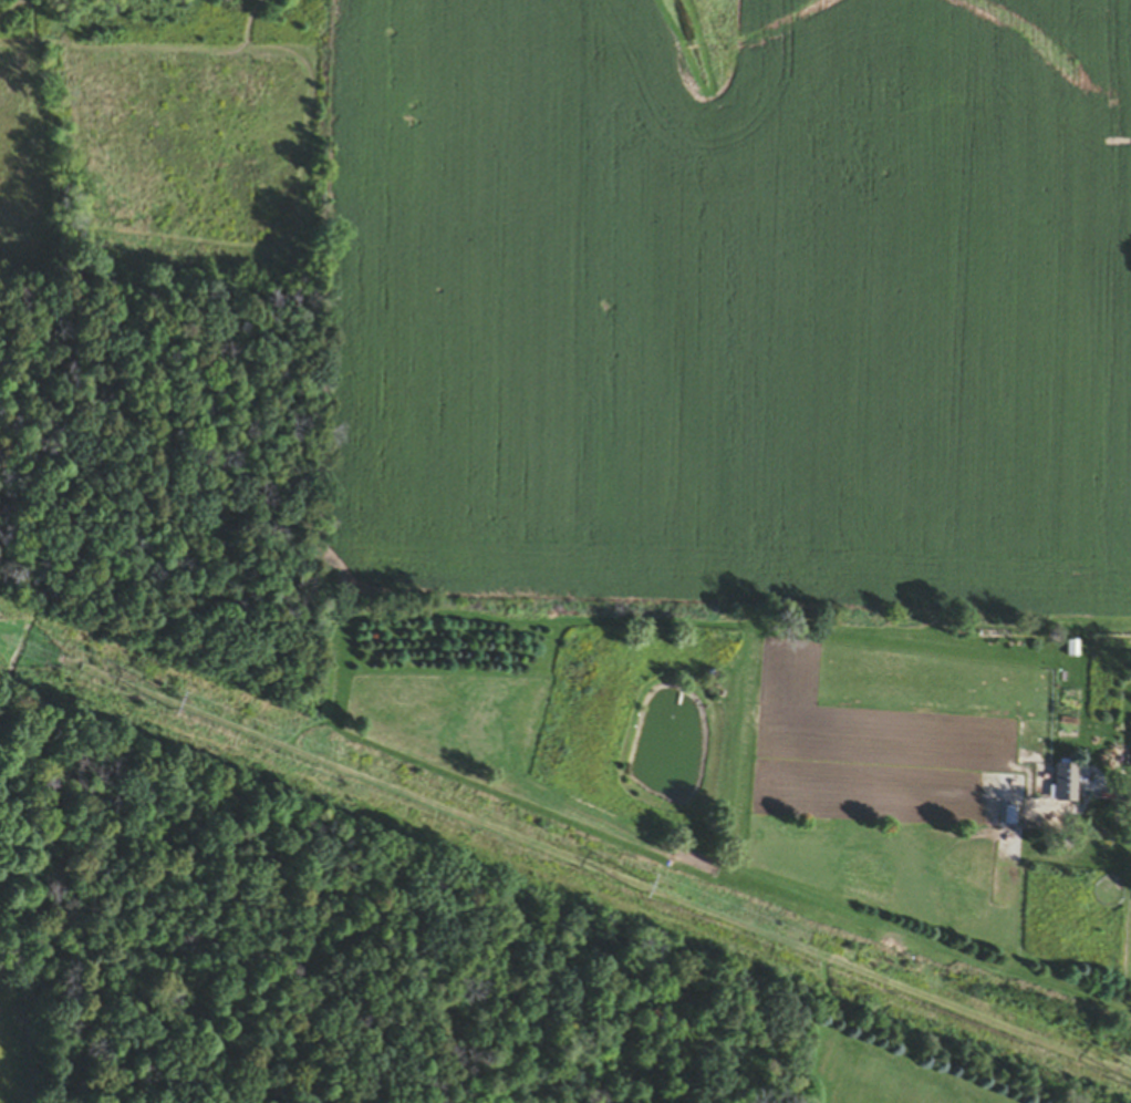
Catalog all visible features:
building: (1072, 650)
power tower: (181, 709)
building: (1066, 785)
power tower: (650, 890)
crop: (11, 1055)
power tower: (1121, 1076)

